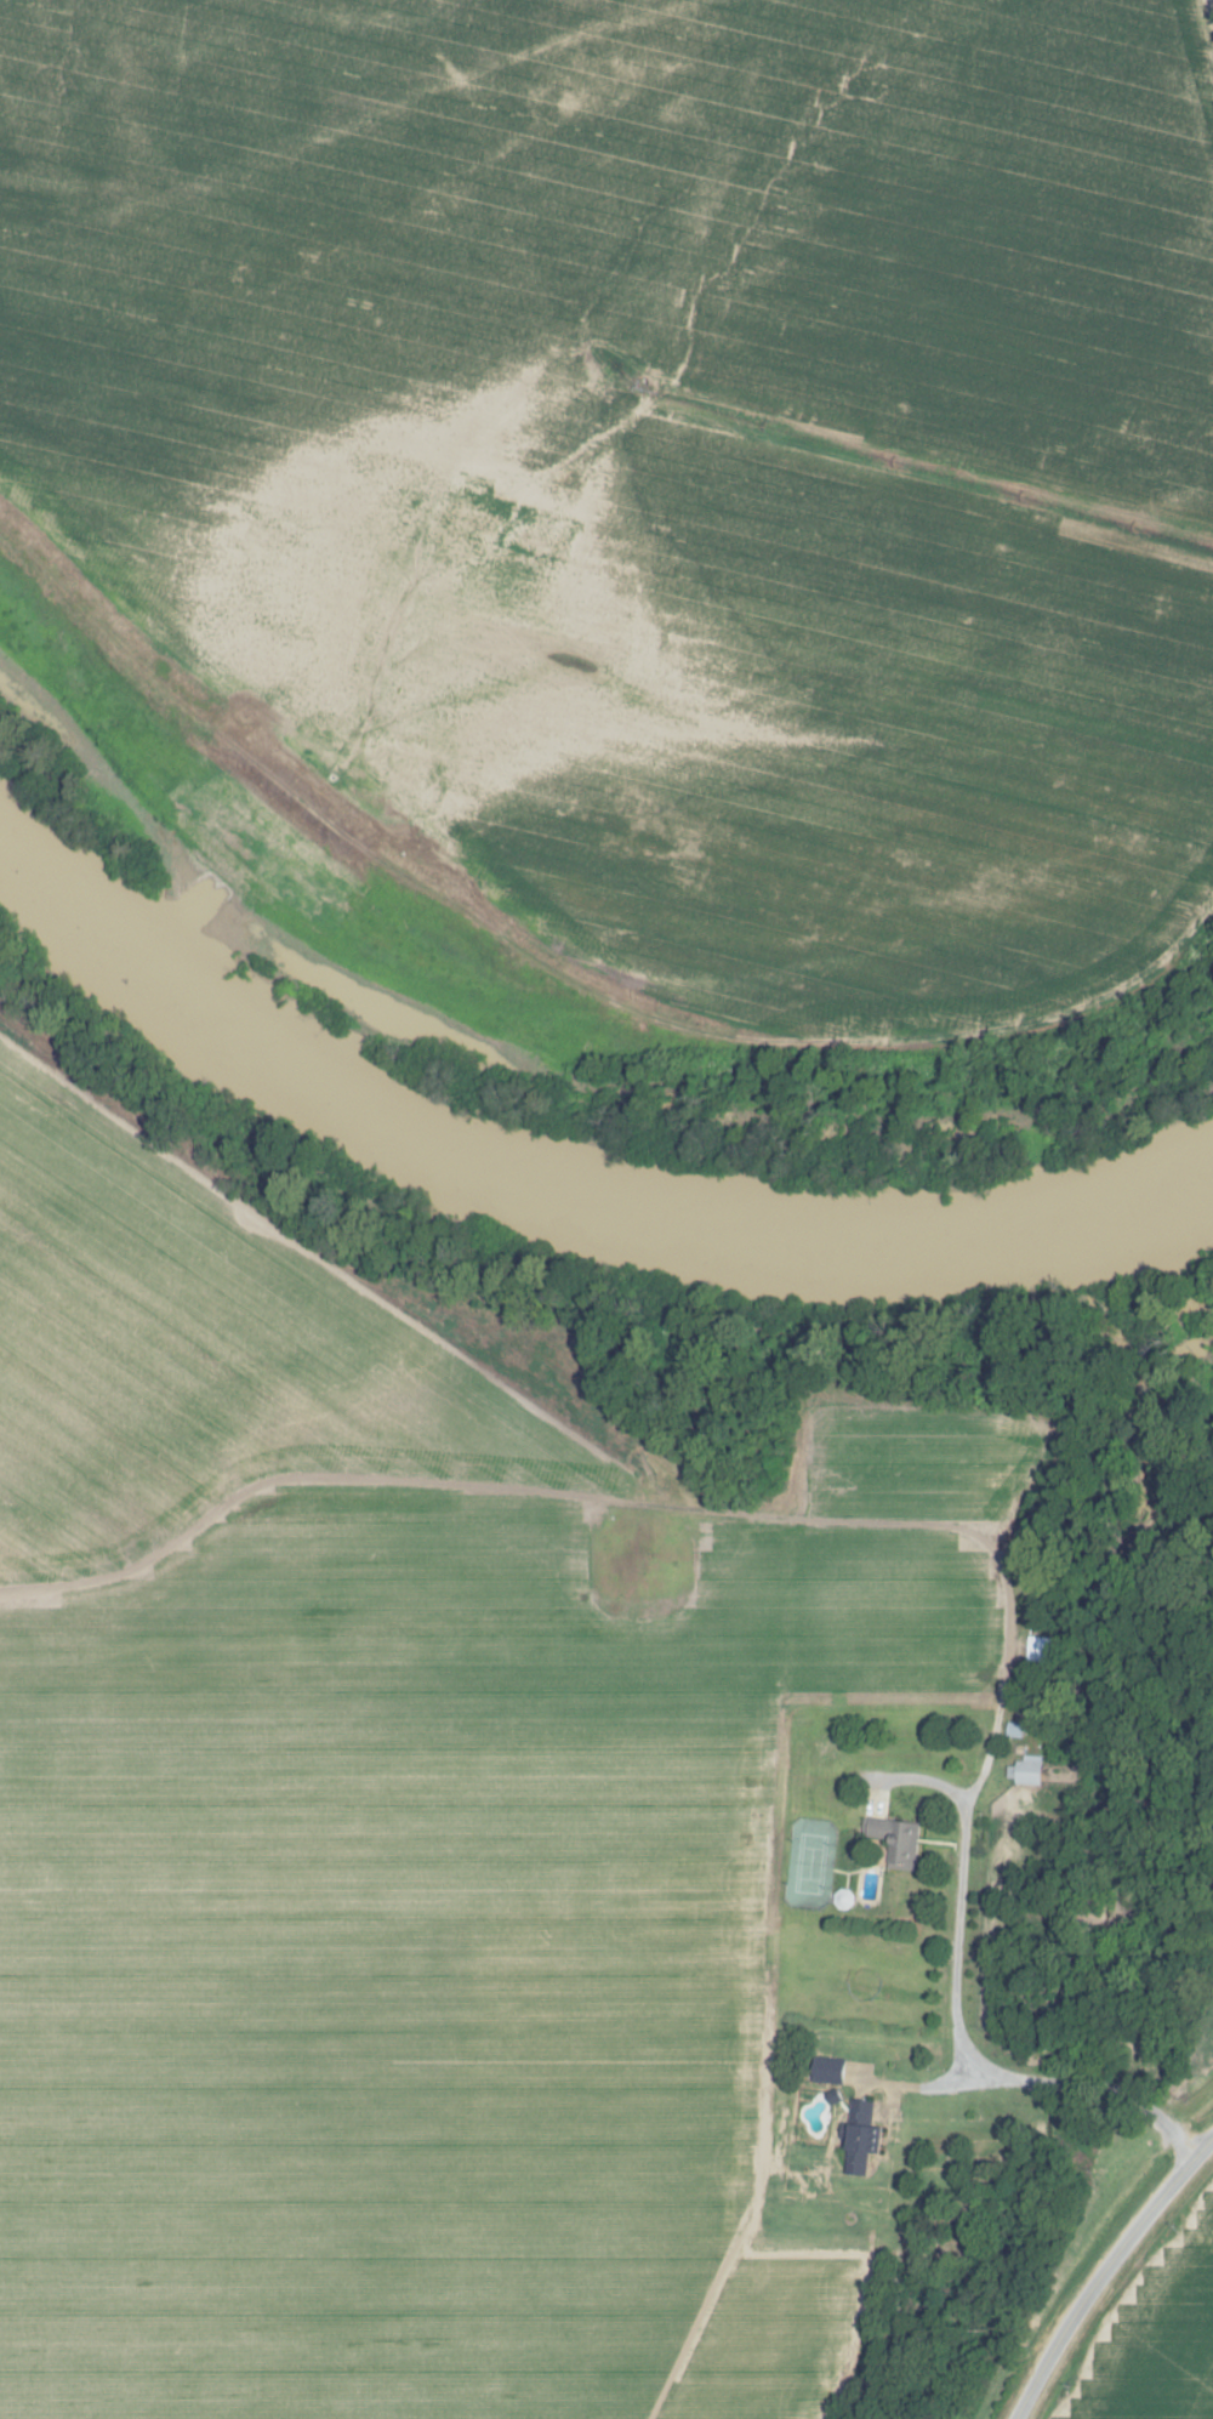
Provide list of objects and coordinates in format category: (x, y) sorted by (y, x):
road: (301, 127)
river: (557, 1205)
road: (867, 1525)
building: (1024, 1771)
building: (893, 1840)
road: (767, 1979)
building: (824, 2068)
road: (875, 2095)
building: (856, 2134)
road: (1086, 2248)

